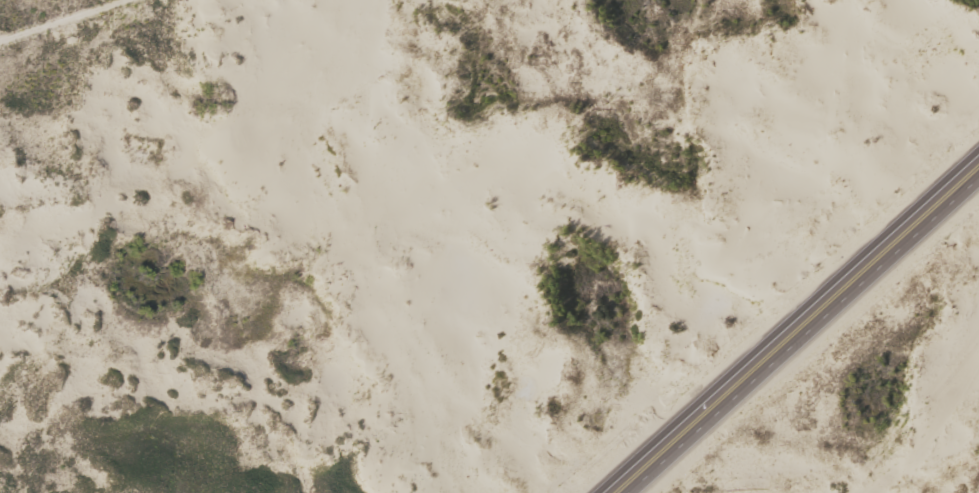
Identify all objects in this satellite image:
road: (801, 332)

